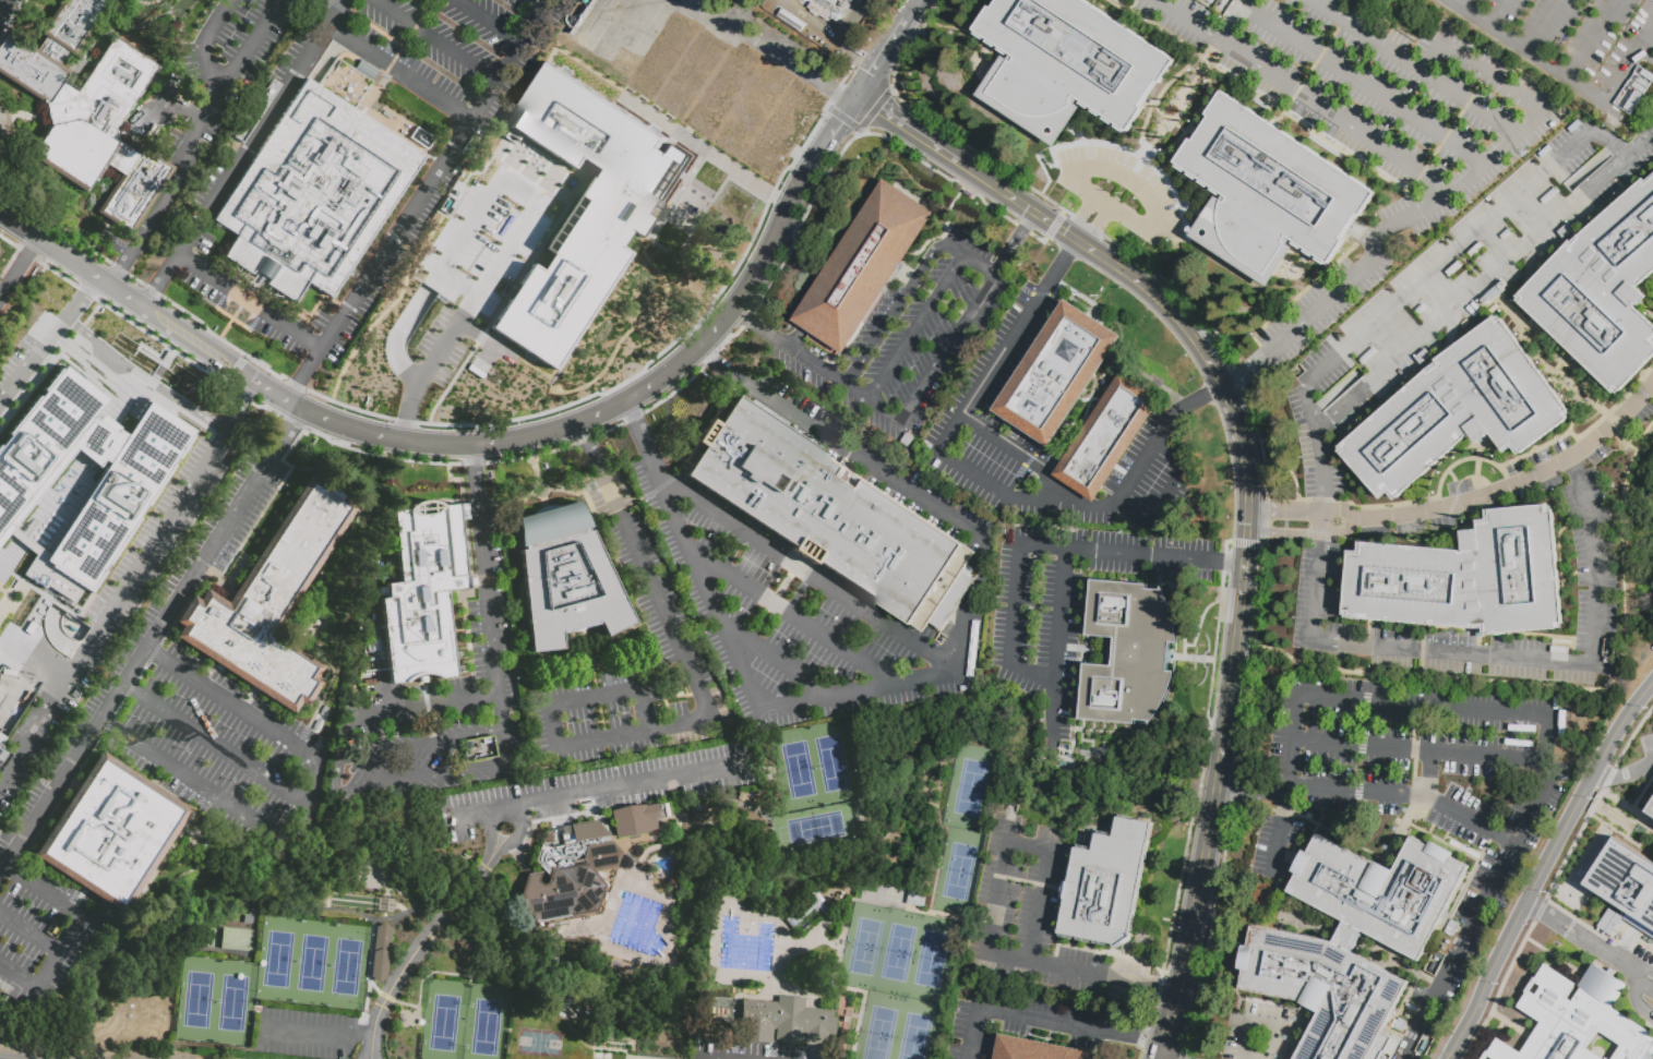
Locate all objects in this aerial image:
road: (1451, 1)
road: (1453, 1)
building: (830, 2)
road: (536, 4)
building: (819, 11)
road: (913, 11)
road: (1500, 13)
road: (720, 20)
building: (791, 20)
road: (489, 21)
road: (743, 21)
power substation: (819, 21)
road: (1234, 21)
road: (1548, 26)
building: (70, 27)
road: (407, 36)
road: (826, 36)
road: (1594, 38)
road: (430, 41)
road: (203, 44)
road: (782, 57)
road: (879, 61)
building: (1065, 64)
road: (1415, 69)
road: (848, 70)
road: (399, 71)
road: (1566, 74)
road: (225, 82)
building: (116, 83)
building: (346, 85)
road: (831, 86)
road: (1364, 86)
road: (889, 89)
road: (834, 92)
road: (166, 96)
road: (1304, 96)
traffic signals: (853, 100)
road: (826, 108)
road: (873, 110)
building: (259, 111)
road: (1636, 112)
building: (63, 119)
road: (843, 120)
road: (261, 127)
road: (936, 127)
road: (860, 132)
road: (906, 132)
road: (831, 133)
road: (1078, 133)
road: (848, 141)
road: (1102, 143)
road: (802, 145)
road: (1641, 145)
road: (705, 149)
road: (1593, 164)
road: (434, 173)
road: (1128, 175)
road: (974, 176)
road: (1468, 180)
road: (796, 188)
building: (1268, 191)
building: (313, 193)
building: (968, 193)
building: (139, 194)
road: (769, 194)
road: (1190, 207)
road: (1107, 208)
road: (532, 209)
building: (584, 209)
road: (705, 210)
road: (1062, 213)
road: (1082, 216)
road: (1086, 225)
road: (1053, 226)
road: (1099, 227)
road: (145, 228)
road: (1021, 228)
road: (1058, 228)
road: (1038, 238)
road: (1014, 242)
road: (969, 257)
road: (1447, 258)
road: (73, 262)
road: (19, 266)
road: (1061, 266)
road: (1148, 267)
road: (122, 269)
building: (865, 269)
road: (158, 279)
parking lot: (1460, 279)
road: (1478, 291)
building: (1606, 292)
road: (76, 297)
road: (503, 299)
road: (739, 300)
road: (248, 301)
road: (239, 306)
road: (386, 308)
road: (895, 313)
road: (231, 317)
road: (746, 318)
road: (754, 322)
road: (1182, 322)
road: (639, 323)
road: (917, 327)
road: (397, 335)
road: (727, 336)
road: (192, 339)
road: (948, 347)
road: (136, 348)
road: (29, 354)
road: (709, 358)
road: (810, 361)
building: (829, 361)
road: (239, 362)
road: (721, 362)
road: (1246, 366)
road: (264, 369)
road: (146, 372)
road: (991, 372)
road: (303, 375)
building: (1058, 375)
road: (632, 376)
road: (294, 383)
road: (267, 389)
road: (672, 389)
road: (857, 393)
road: (1333, 395)
road: (1201, 397)
road: (347, 406)
road: (406, 410)
road: (885, 410)
road: (1233, 411)
building: (1456, 412)
road: (631, 417)
road: (404, 419)
road: (292, 421)
road: (607, 429)
road: (285, 431)
road: (584, 438)
building: (1107, 440)
road: (643, 442)
road: (488, 443)
road: (588, 447)
building: (881, 449)
road: (380, 455)
road: (528, 455)
road: (865, 458)
road: (1030, 459)
road: (1143, 461)
road: (471, 462)
road: (1323, 468)
road: (471, 471)
road: (1524, 479)
building: (76, 484)
building: (1031, 484)
road: (1162, 496)
road: (1014, 501)
road: (1309, 513)
building: (831, 515)
road: (163, 533)
road: (1309, 534)
road: (1065, 552)
road: (981, 568)
road: (811, 576)
building: (565, 577)
building: (1464, 578)
building: (422, 591)
road: (655, 594)
road: (710, 595)
building: (271, 600)
road: (1016, 606)
road: (1241, 613)
road: (792, 615)
road: (490, 630)
road: (965, 633)
building: (375, 645)
building: (1608, 649)
building: (1128, 653)
road: (1492, 653)
road: (777, 658)
road: (135, 662)
road: (859, 688)
building: (900, 694)
road: (594, 696)
road: (231, 702)
road: (421, 703)
park: (770, 714)
road: (1545, 731)
road: (32, 732)
road: (632, 733)
building: (0, 735)
road: (343, 738)
road: (420, 743)
road: (214, 744)
road: (1416, 749)
park: (831, 762)
park: (796, 768)
road: (1622, 774)
road: (190, 775)
road: (1430, 775)
road: (336, 777)
road: (419, 780)
road: (602, 787)
park: (970, 789)
road: (1250, 792)
road: (1404, 797)
road: (308, 804)
building: (1651, 810)
building: (634, 819)
park: (814, 828)
building: (111, 832)
road: (1279, 833)
road: (490, 834)
road: (514, 837)
road: (1544, 867)
park: (960, 871)
building: (568, 873)
building: (1626, 881)
building: (1109, 884)
road: (1199, 898)
road: (998, 899)
building: (915, 900)
building: (806, 912)
road: (79, 913)
building: (368, 914)
road: (29, 930)
road: (1579, 937)
building: (208, 940)
building: (1352, 943)
park: (866, 946)
building: (379, 951)
park: (899, 952)
road: (418, 954)
park: (277, 959)
park: (933, 960)
park: (311, 963)
park: (346, 966)
building: (625, 971)
road: (19, 975)
road: (1164, 985)
park: (199, 1000)
park: (232, 1002)
road: (1026, 1014)
building: (789, 1019)
building: (1574, 1019)
park: (444, 1023)
park: (486, 1026)
road: (1169, 1033)
road: (323, 1034)
park: (882, 1034)
park: (915, 1037)
road: (1146, 1038)
building: (702, 1047)
building: (1037, 1050)
road: (703, 1058)
road: (707, 1058)

